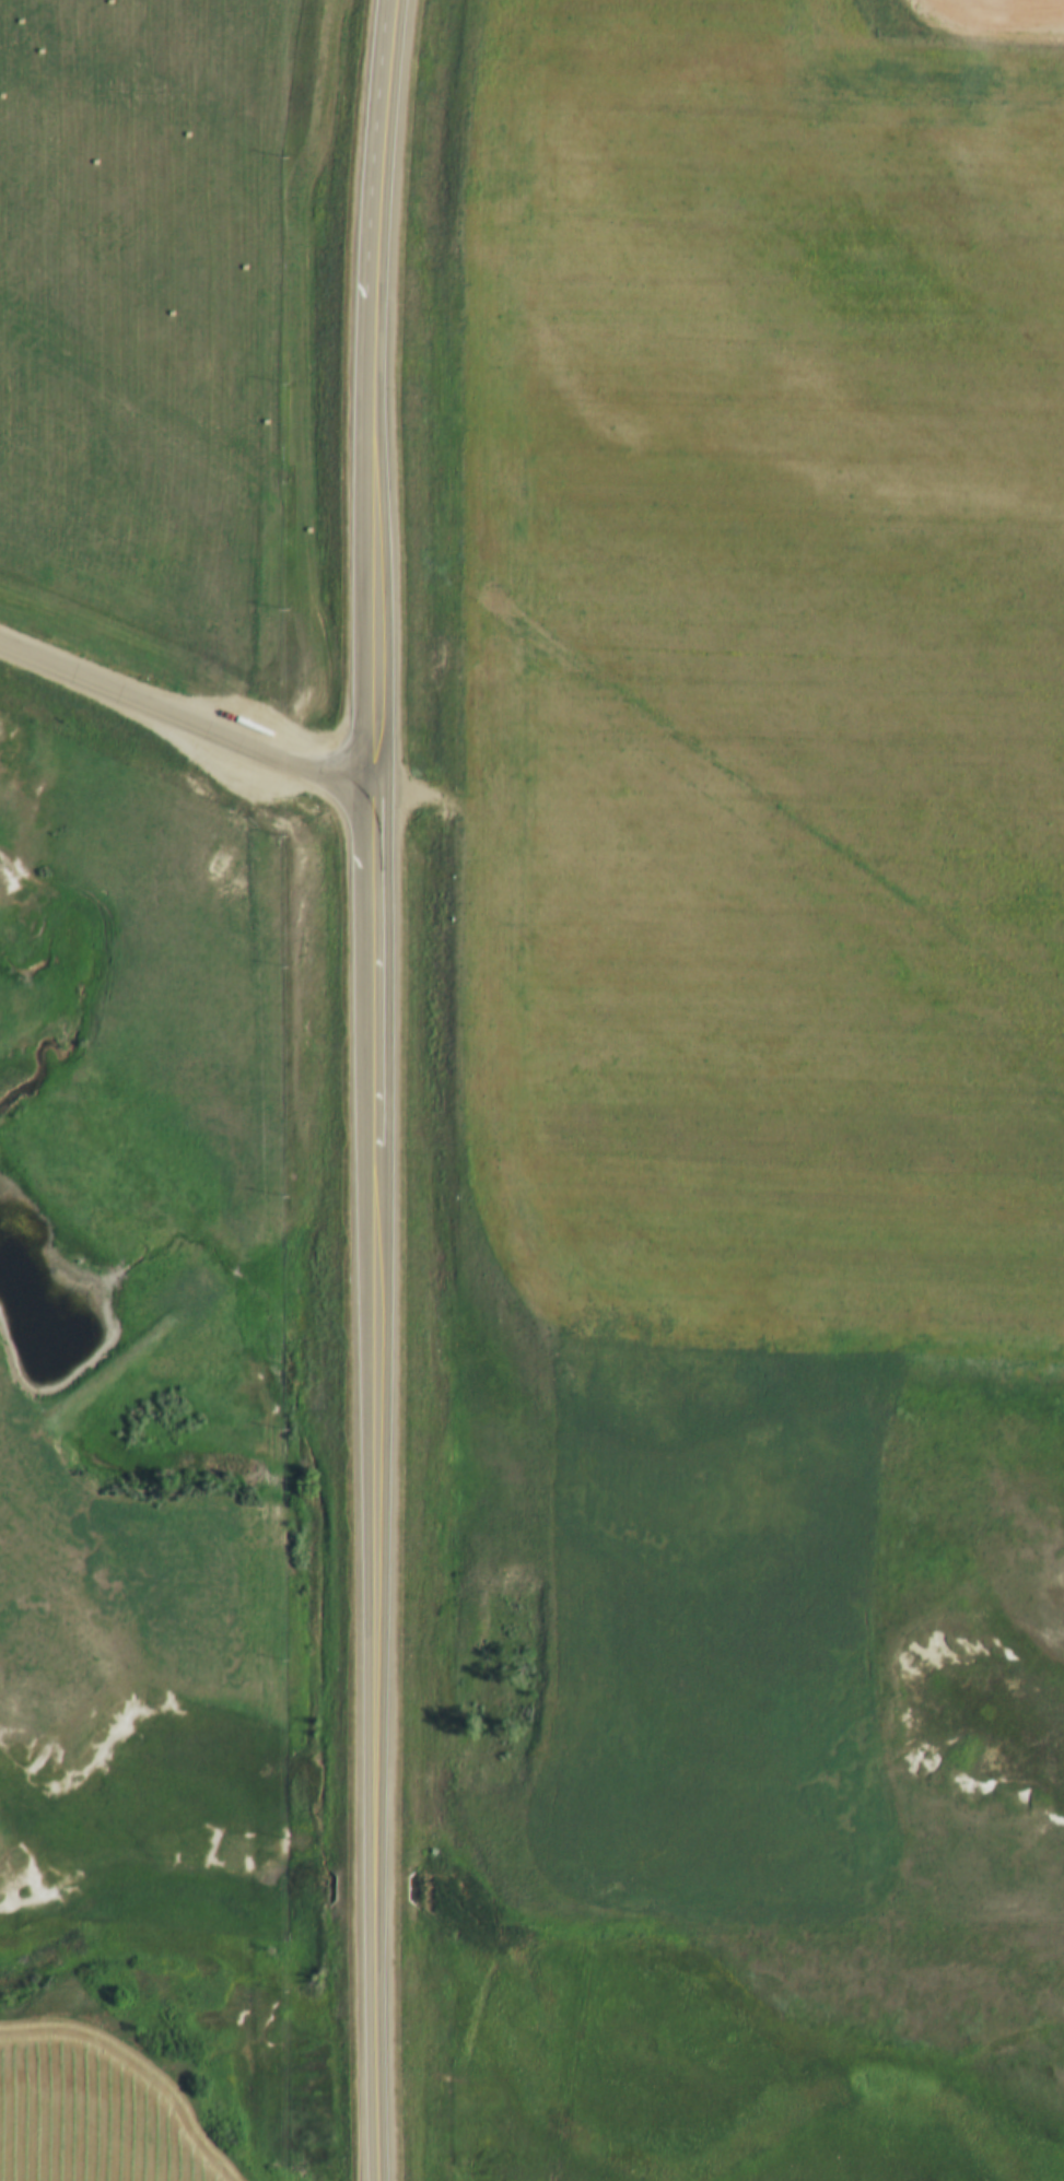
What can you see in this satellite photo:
road: (186, 723)
road: (374, 1090)
road: (152, 2104)

